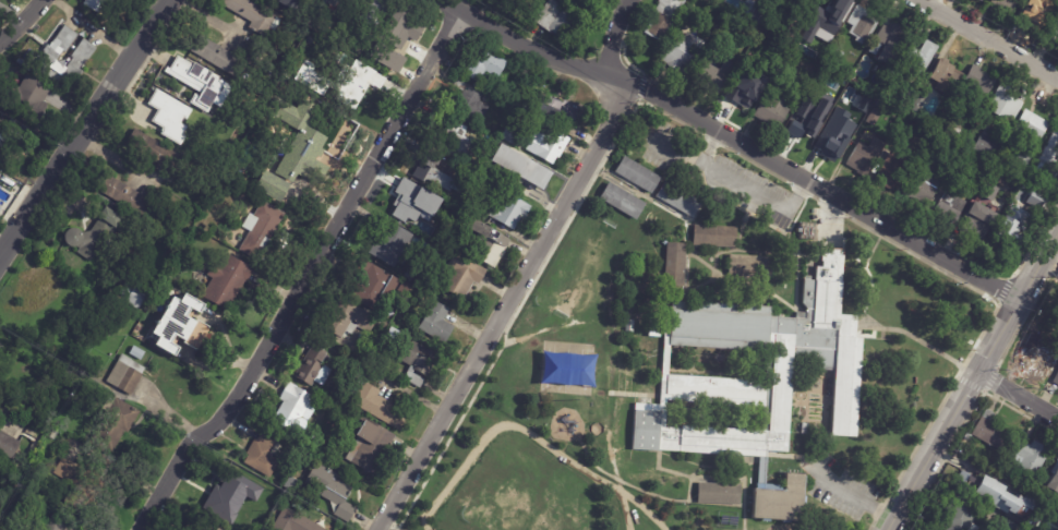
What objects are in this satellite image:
building: (974, 0)
building: (979, 0)
building: (797, 3)
building: (99, 4)
building: (1005, 4)
building: (330, 5)
building: (376, 12)
building: (831, 12)
building: (254, 13)
building: (1033, 13)
building: (662, 17)
building: (551, 20)
road: (20, 21)
building: (859, 24)
road: (94, 28)
building: (401, 28)
building: (1053, 29)
building: (785, 32)
building: (805, 34)
road: (618, 39)
road: (987, 39)
building: (825, 44)
building: (886, 44)
road: (529, 48)
building: (681, 52)
building: (218, 55)
building: (386, 57)
building: (68, 58)
building: (916, 58)
building: (485, 64)
building: (711, 75)
building: (943, 77)
building: (312, 79)
building: (821, 79)
building: (978, 80)
building: (203, 82)
building: (357, 83)
building: (740, 88)
building: (909, 93)
building: (469, 99)
building: (28, 101)
building: (526, 101)
building: (905, 101)
building: (916, 103)
building: (1003, 104)
building: (560, 108)
building: (841, 108)
building: (770, 110)
building: (873, 118)
building: (959, 119)
building: (805, 120)
building: (1031, 125)
building: (177, 127)
road: (85, 128)
building: (864, 131)
building: (952, 133)
building: (513, 134)
building: (458, 138)
building: (10, 142)
building: (1009, 142)
building: (987, 143)
building: (554, 144)
building: (931, 145)
building: (830, 147)
building: (157, 152)
road: (677, 154)
road: (111, 155)
building: (435, 155)
building: (863, 157)
building: (1047, 157)
building: (1020, 158)
building: (297, 165)
building: (524, 166)
parking lot: (708, 166)
building: (889, 171)
building: (635, 176)
building: (442, 177)
building: (1029, 178)
road: (742, 184)
building: (270, 185)
road: (817, 189)
building: (919, 190)
building: (984, 192)
building: (1024, 193)
building: (134, 196)
building: (677, 200)
building: (1034, 200)
building: (416, 202)
building: (618, 202)
building: (453, 208)
building: (505, 208)
building: (946, 209)
building: (116, 215)
building: (972, 222)
building: (263, 229)
building: (1010, 232)
building: (714, 237)
building: (89, 239)
building: (437, 239)
building: (461, 240)
building: (392, 242)
building: (488, 243)
building: (444, 250)
building: (672, 265)
road: (1048, 266)
building: (746, 267)
road: (305, 273)
building: (466, 274)
building: (229, 280)
building: (380, 287)
building: (134, 294)
road: (503, 309)
building: (124, 312)
building: (1055, 314)
building: (352, 317)
building: (438, 322)
building: (180, 325)
building: (626, 327)
building: (651, 329)
building: (137, 351)
building: (1036, 358)
building: (421, 361)
building: (314, 366)
building: (767, 370)
building: (128, 374)
road: (973, 378)
building: (1055, 380)
road: (1018, 396)
building: (341, 402)
building: (382, 406)
building: (292, 407)
building: (347, 408)
building: (120, 419)
building: (804, 431)
building: (989, 431)
road: (531, 434)
building: (966, 437)
building: (8, 445)
building: (372, 447)
building: (265, 455)
building: (1029, 458)
building: (298, 472)
building: (1053, 481)
building: (84, 483)
park: (527, 485)
parking lot: (842, 489)
building: (334, 491)
road: (849, 493)
building: (227, 494)
building: (716, 495)
building: (999, 497)
building: (783, 498)
road: (625, 508)
building: (958, 514)
building: (296, 521)
building: (1008, 521)
building: (57, 522)
road: (394, 523)
building: (199, 525)
building: (24, 529)

